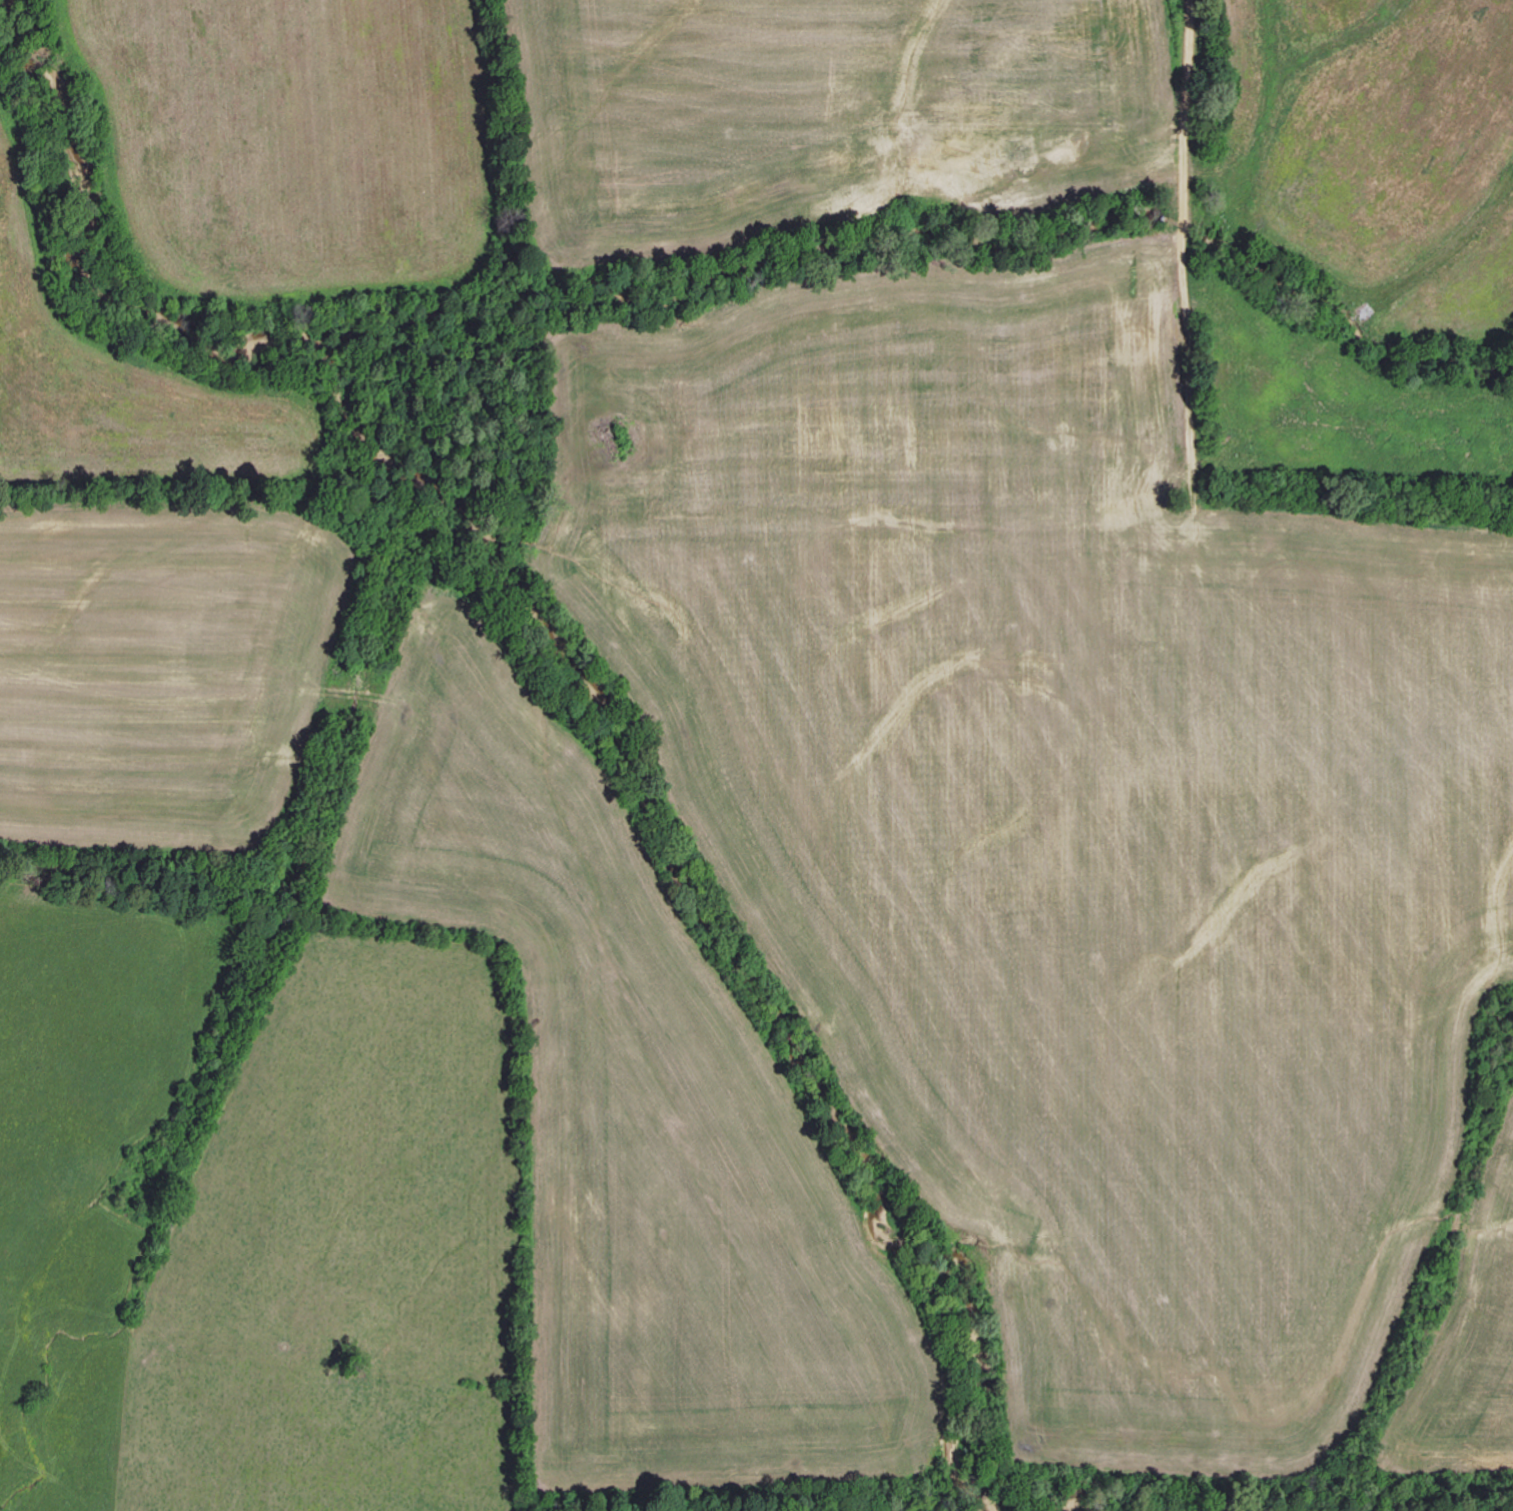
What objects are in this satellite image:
road: (1187, 256)

